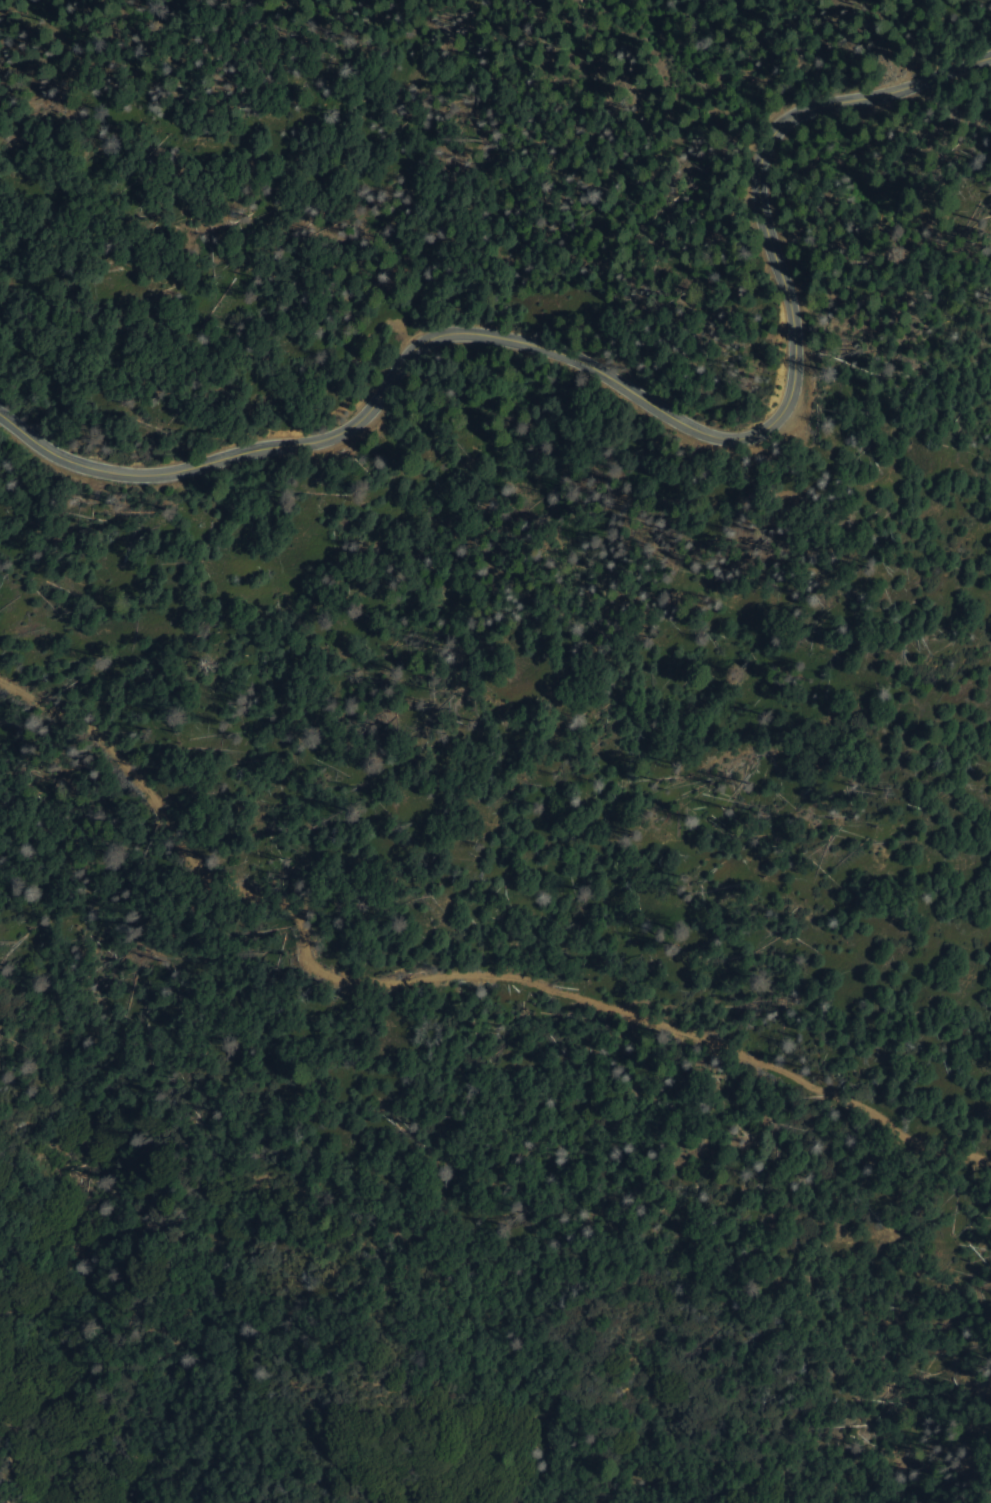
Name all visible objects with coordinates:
road: (629, 389)
road: (474, 969)

